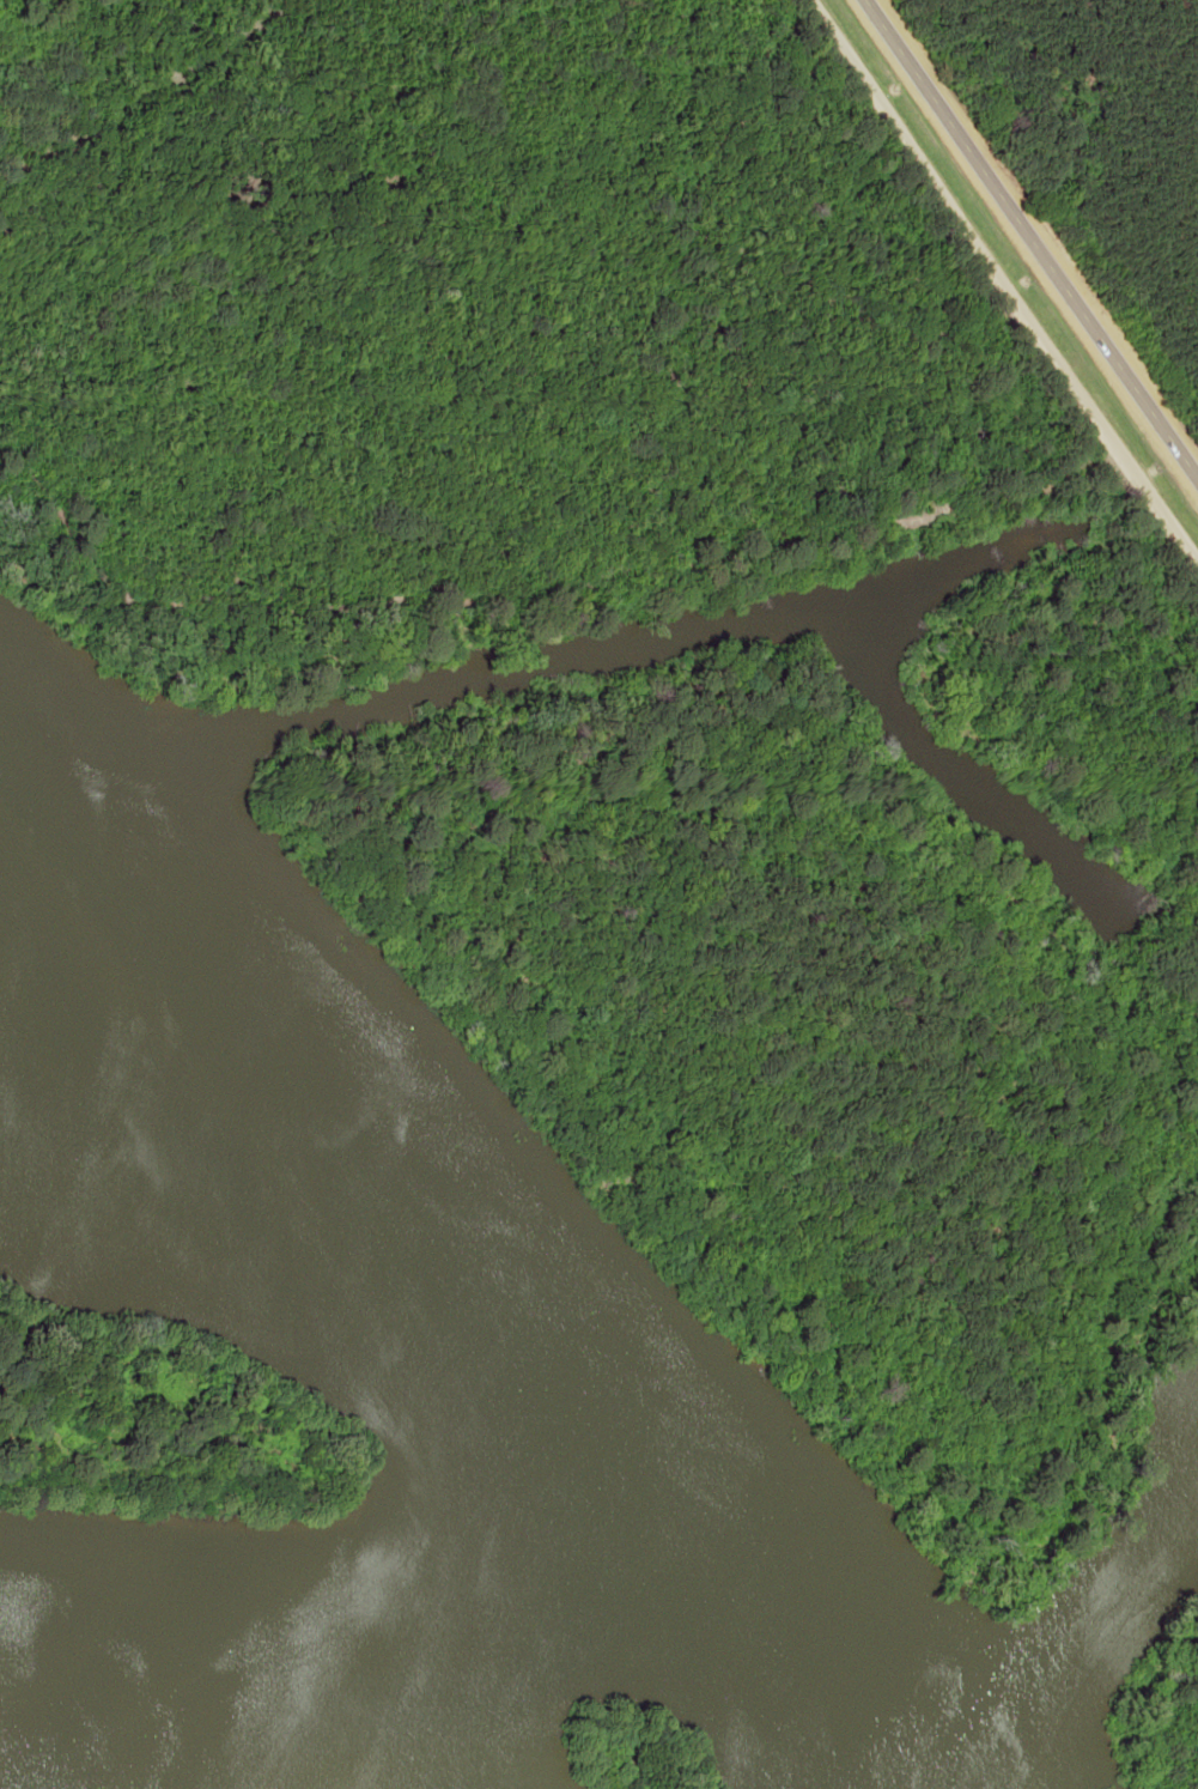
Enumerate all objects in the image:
road: (1029, 237)

